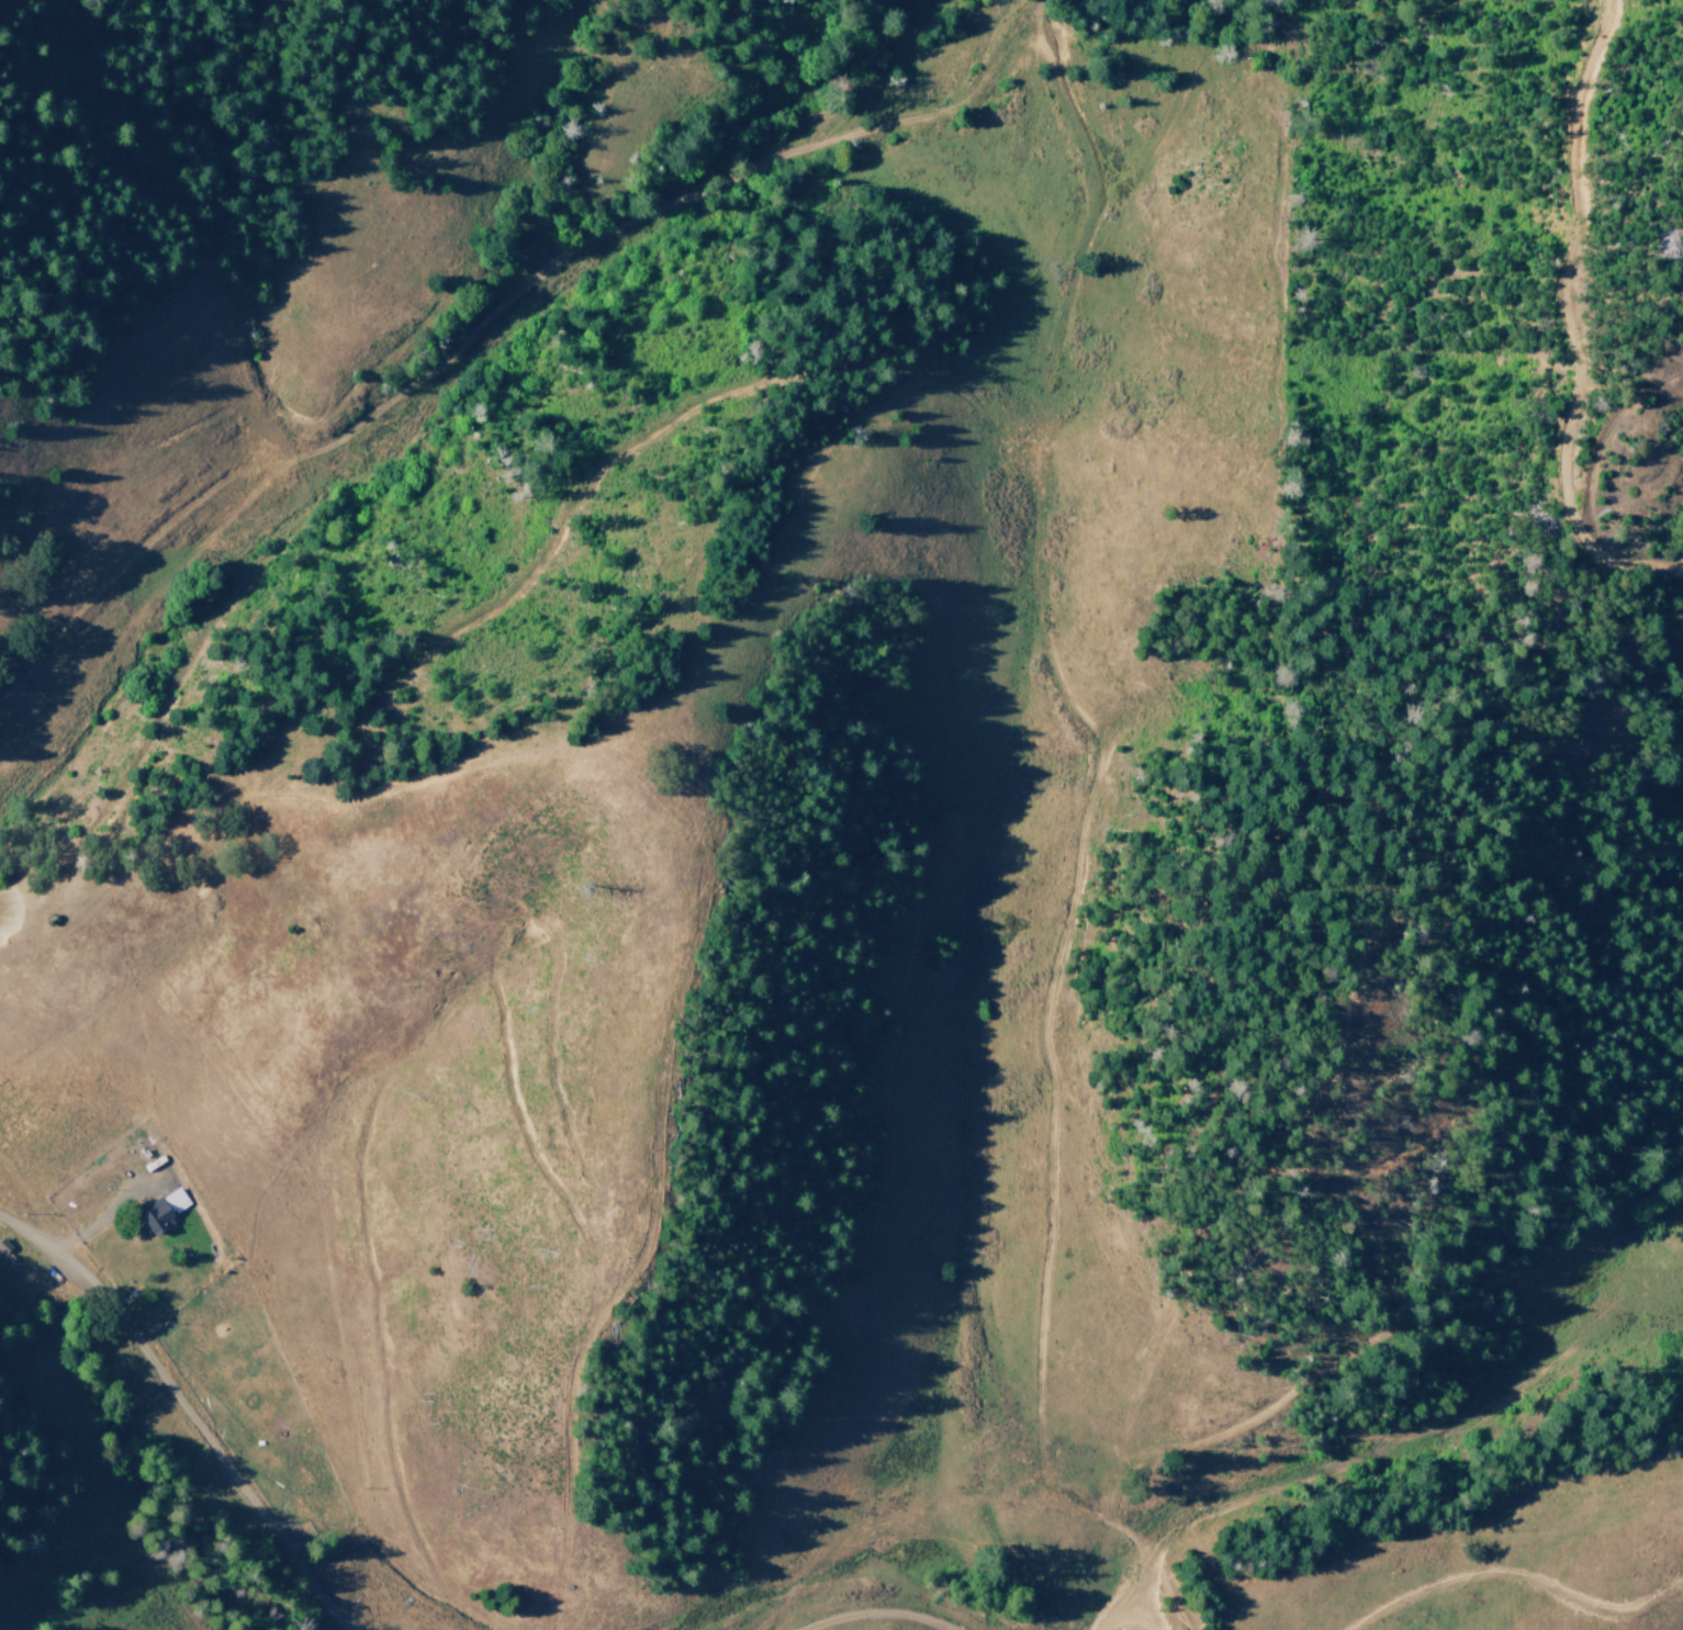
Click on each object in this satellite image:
building: (161, 1211)
road: (189, 1410)

